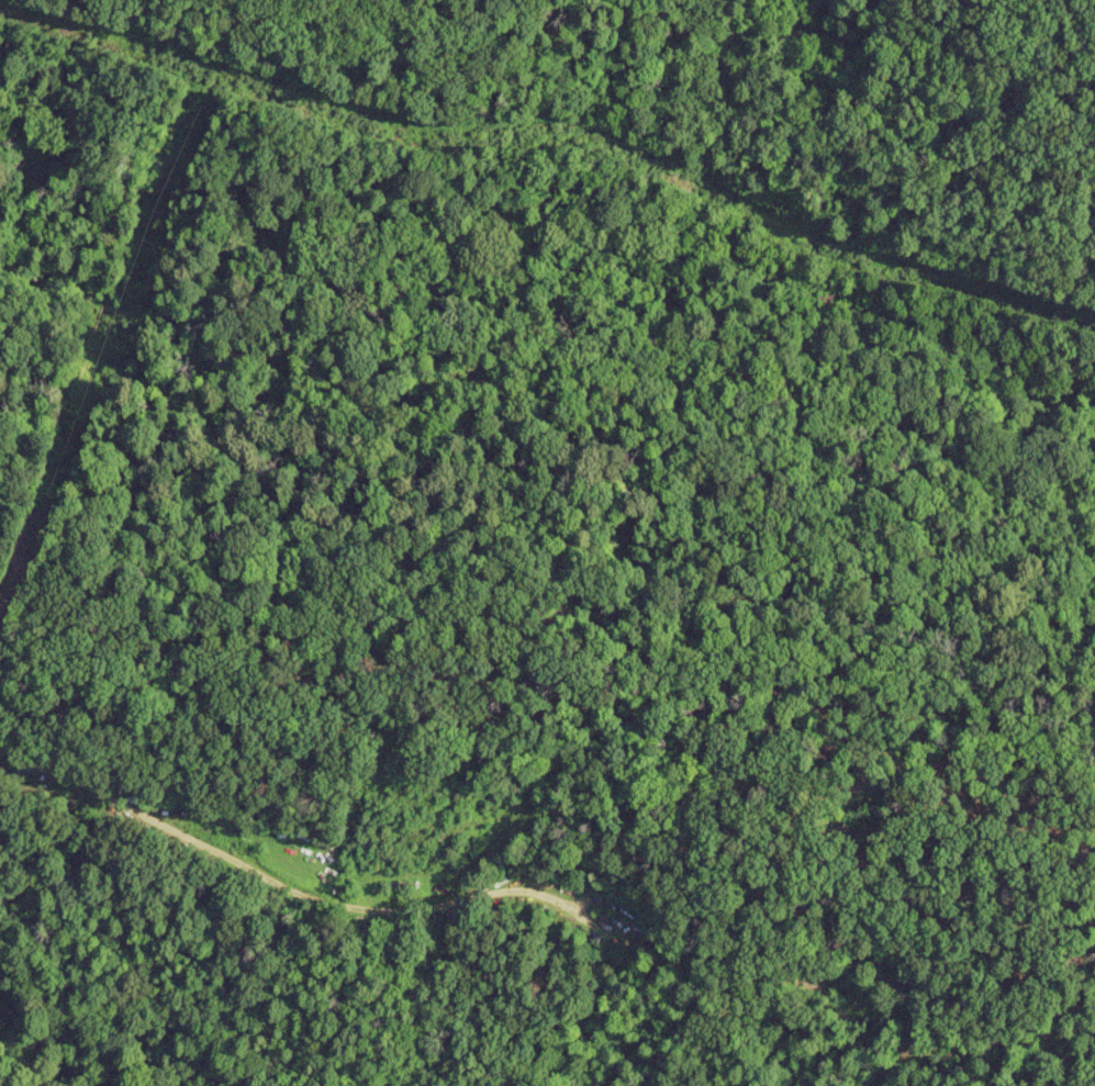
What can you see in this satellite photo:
road: (142, 813)
building: (310, 839)
building: (396, 886)

